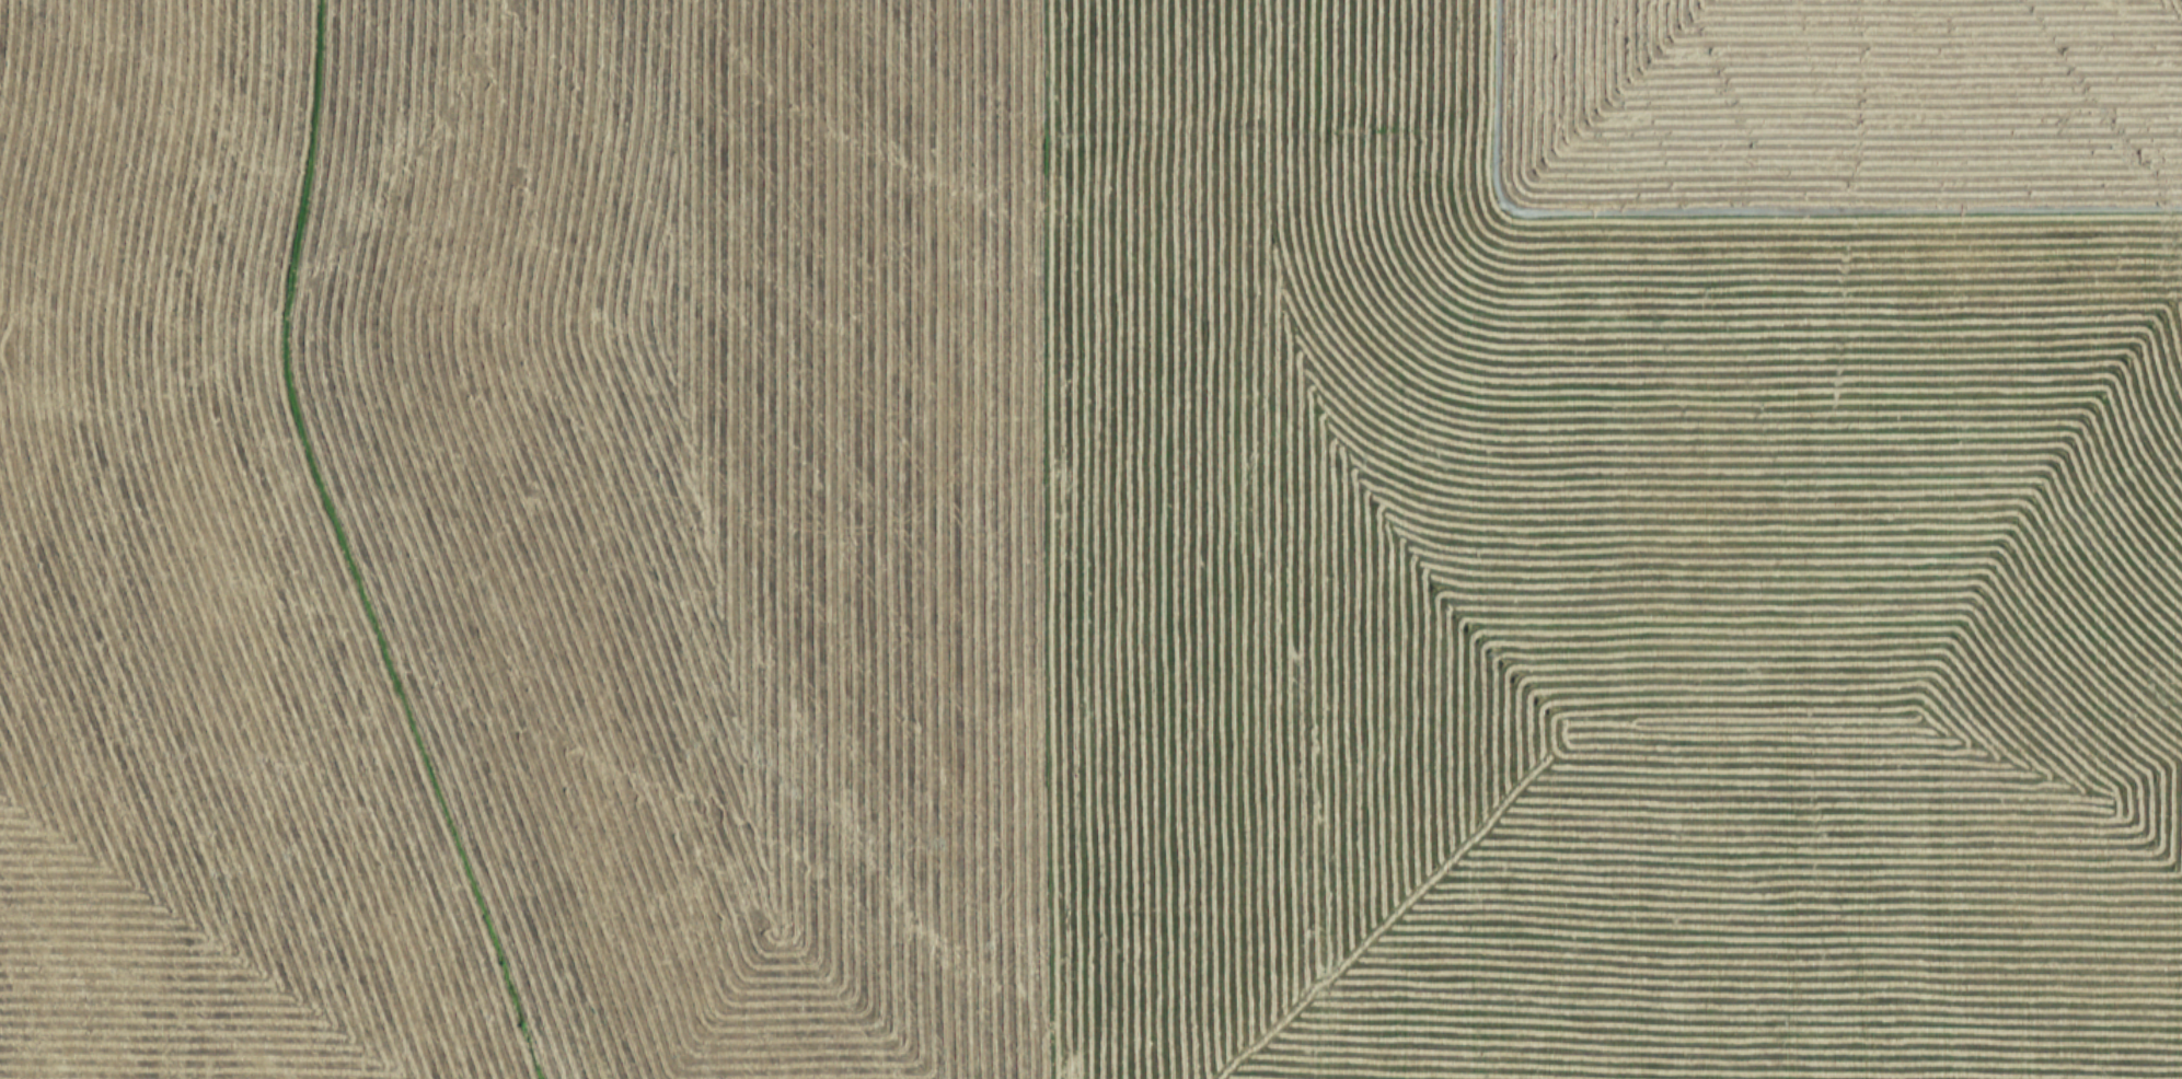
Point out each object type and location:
crop: (1090, 539)

